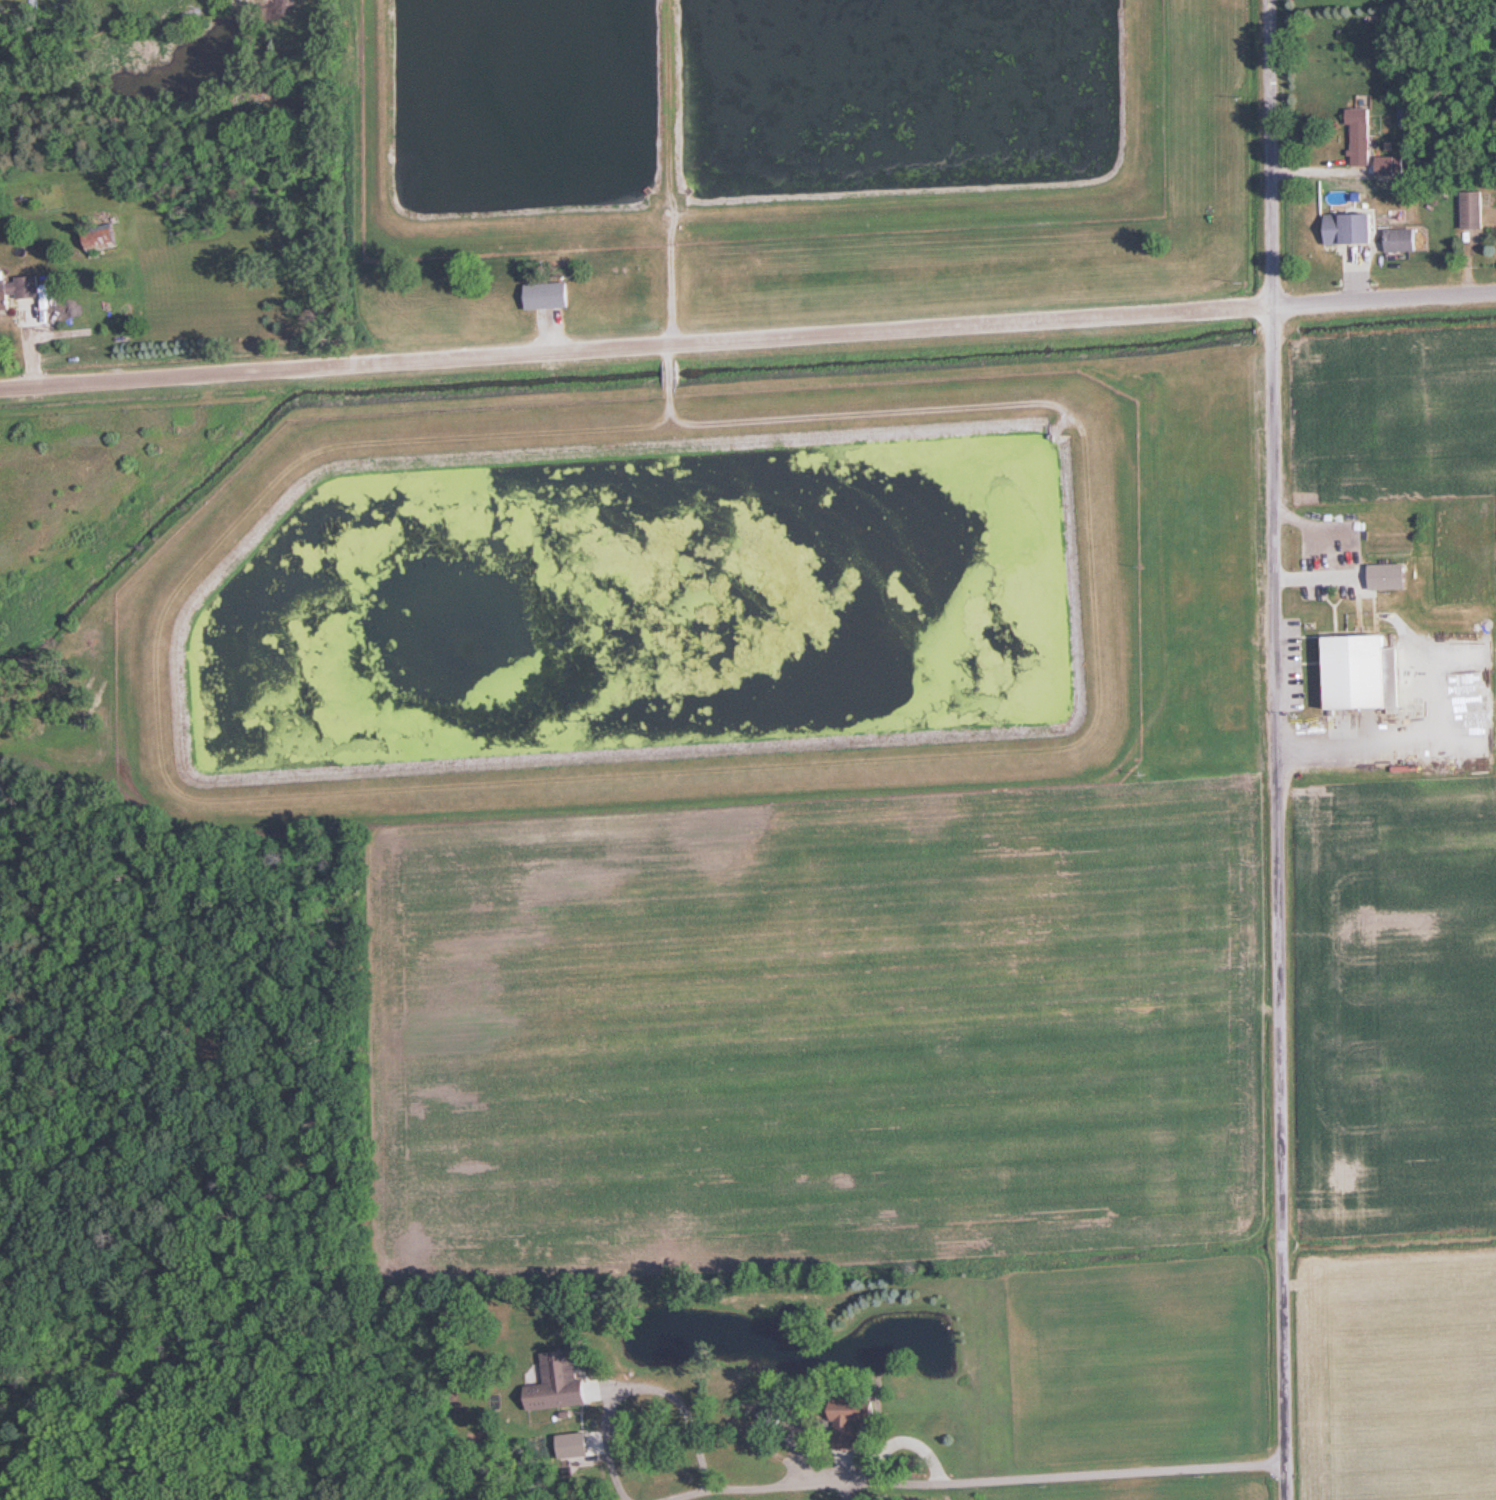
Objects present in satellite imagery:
building: (1361, 136)
road: (1267, 153)
building: (1387, 164)
building: (1474, 209)
building: (1352, 227)
building: (102, 236)
building: (1402, 239)
building: (22, 288)
building: (550, 295)
road: (1382, 300)
road: (634, 346)
building: (1382, 581)
building: (1365, 672)
road: (1279, 903)
building: (560, 1380)
road: (638, 1387)
building: (854, 1420)
road: (971, 1479)
road: (846, 1490)

